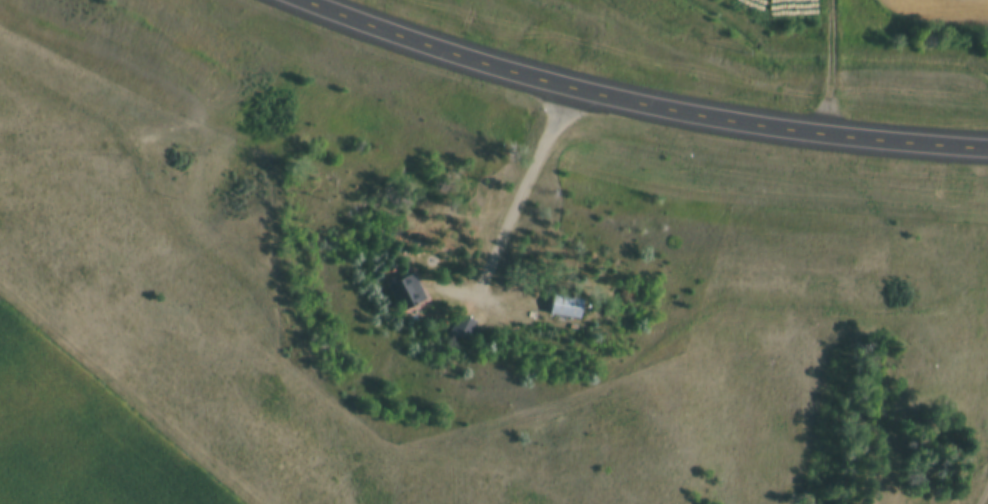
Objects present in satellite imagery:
road: (935, 71)
road: (646, 109)
road: (516, 194)
building: (407, 292)
building: (564, 307)
building: (464, 329)
road: (981, 494)

